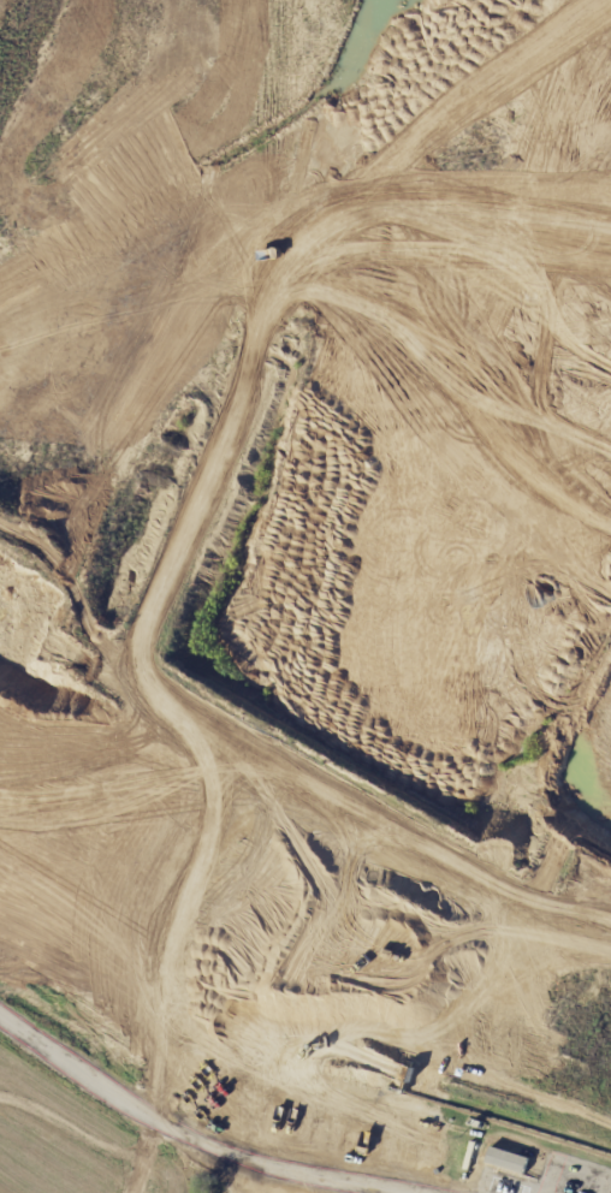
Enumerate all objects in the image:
quarry: (305, 596)
road: (301, 766)
road: (594, 901)
road: (189, 1138)

